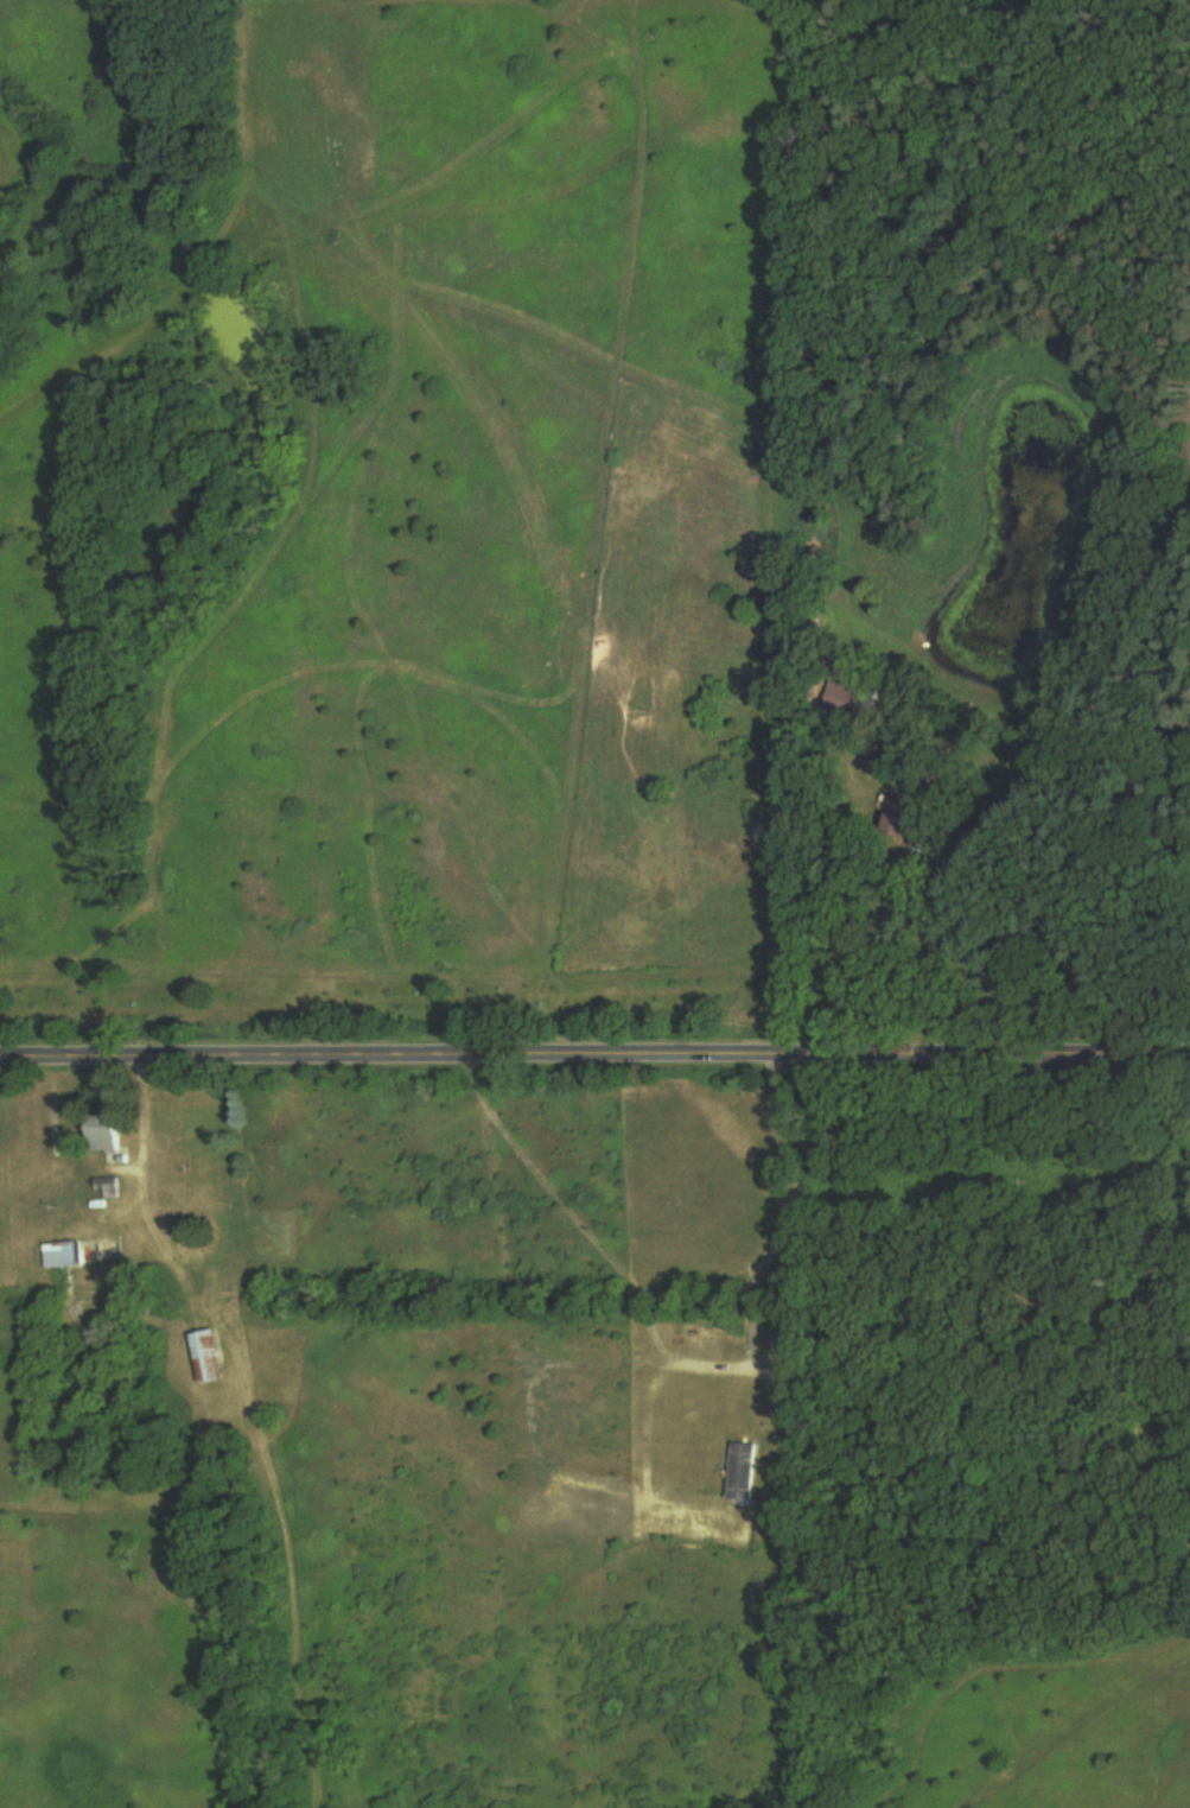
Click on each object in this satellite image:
building: (847, 699)
road: (1067, 729)
building: (912, 819)
road: (594, 1060)
building: (109, 1134)
building: (110, 1182)
building: (68, 1256)
building: (211, 1358)
building: (745, 1472)

